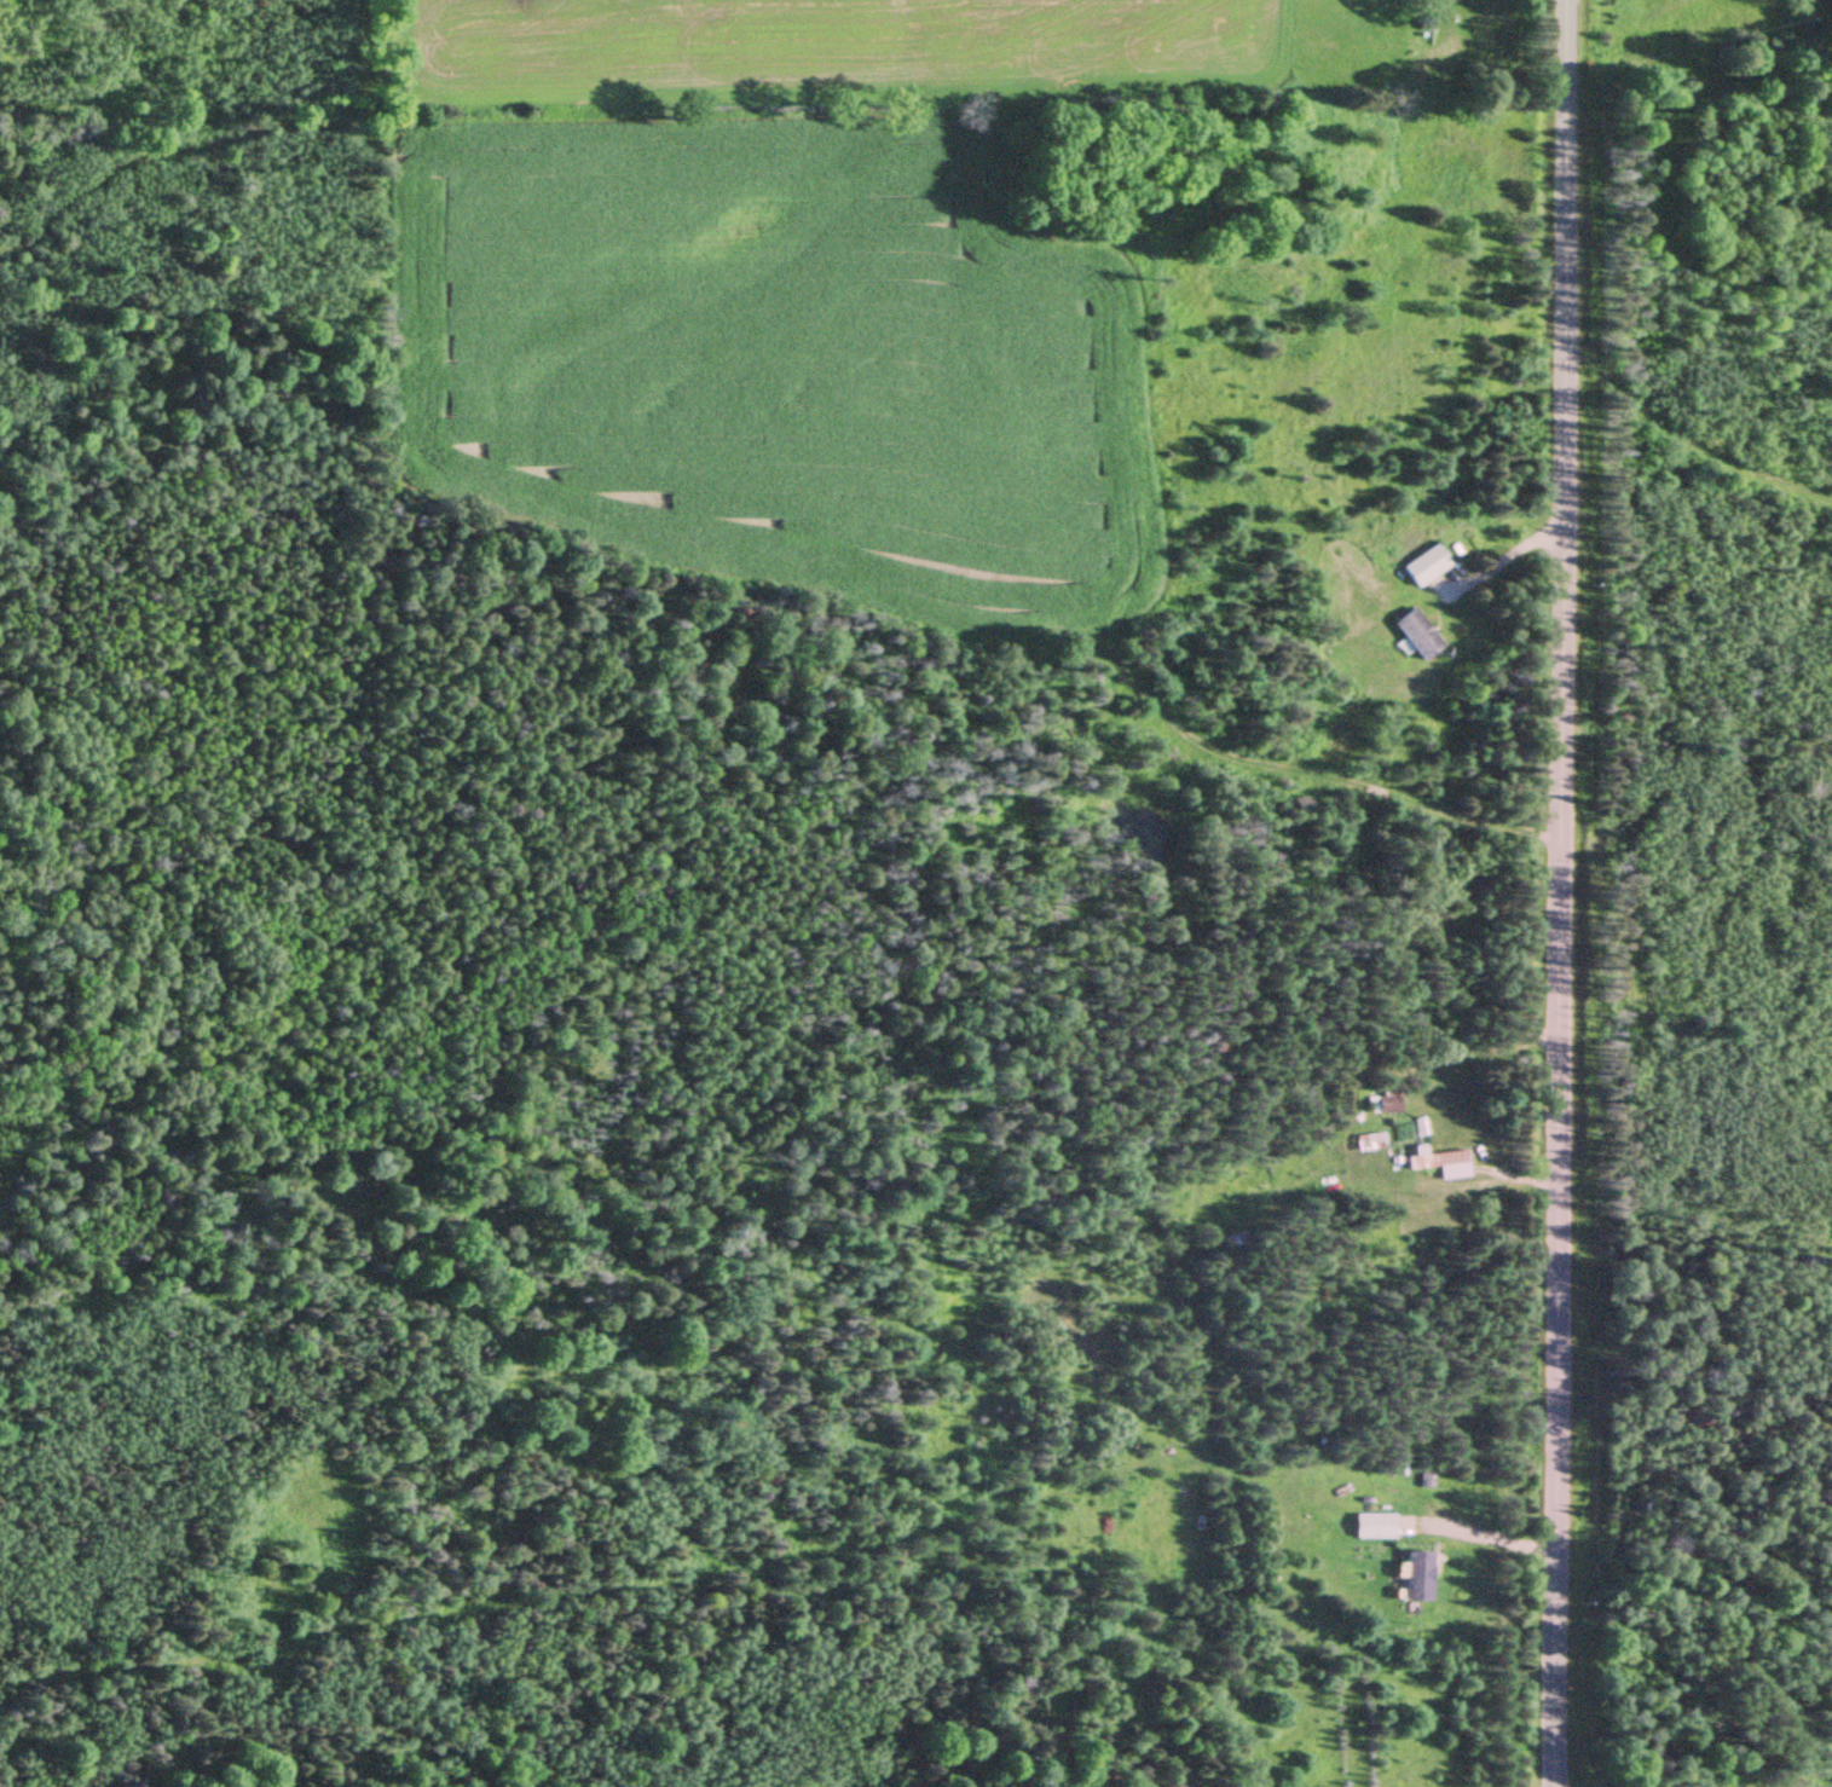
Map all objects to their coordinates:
road: (1698, 37)
building: (1426, 568)
building: (1417, 636)
road: (1560, 893)
building: (1383, 1103)
building: (1369, 1143)
building: (1439, 1163)
building: (1381, 1527)
building: (1418, 1577)

